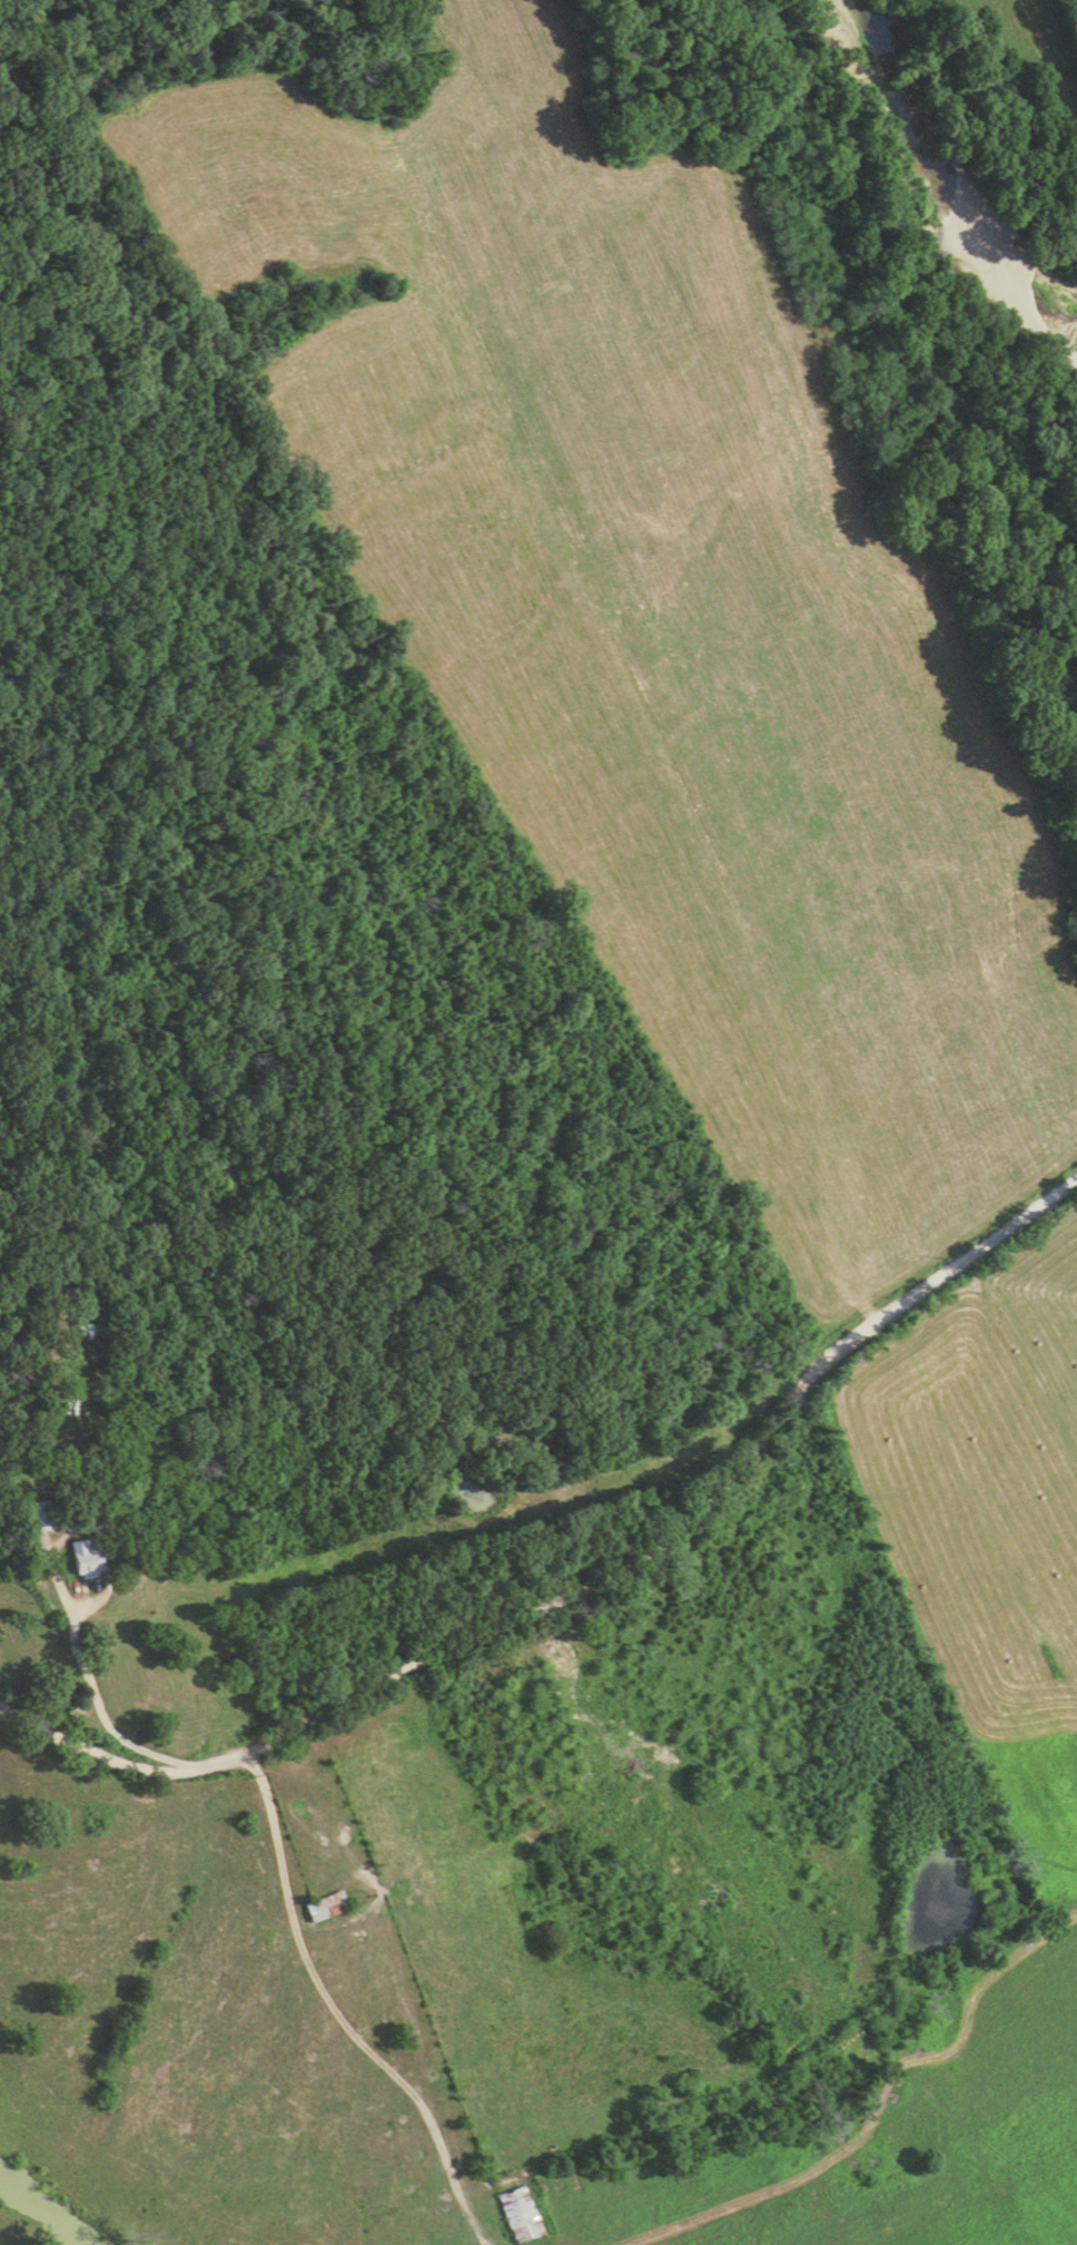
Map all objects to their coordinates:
road: (1068, 21)
road: (977, 1251)
building: (80, 1559)
road: (474, 1634)
road: (78, 1674)
road: (126, 1744)
building: (325, 1908)
road: (318, 1986)
building: (521, 2215)

